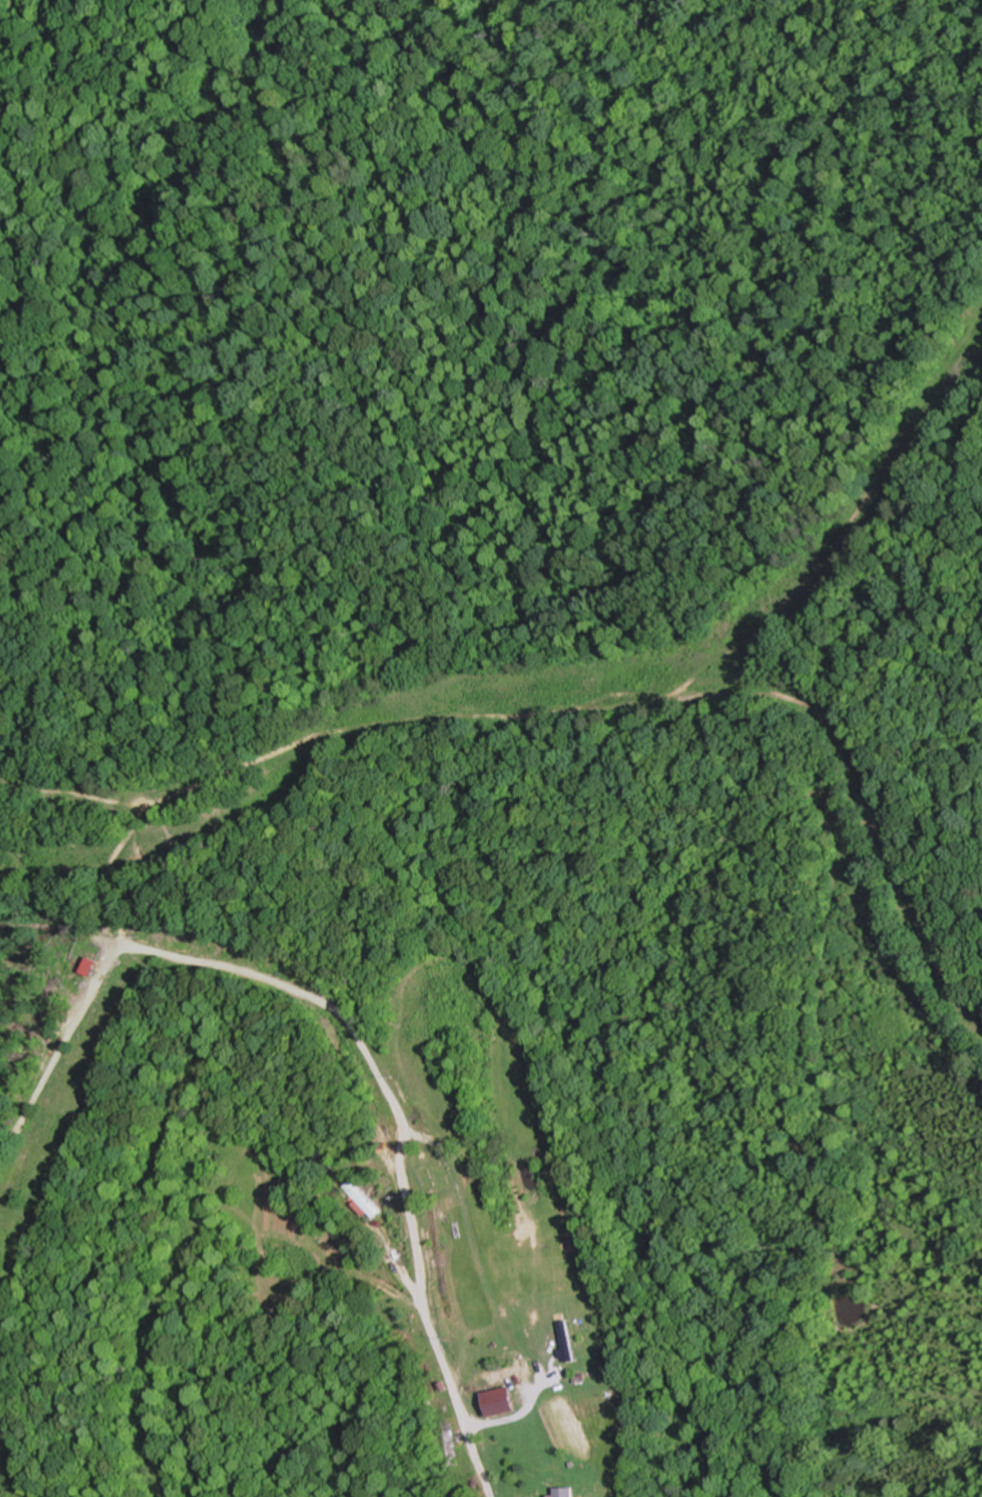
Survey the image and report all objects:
building: (361, 1198)
road: (419, 1294)
building: (582, 1341)
building: (499, 1401)
building: (455, 1443)

